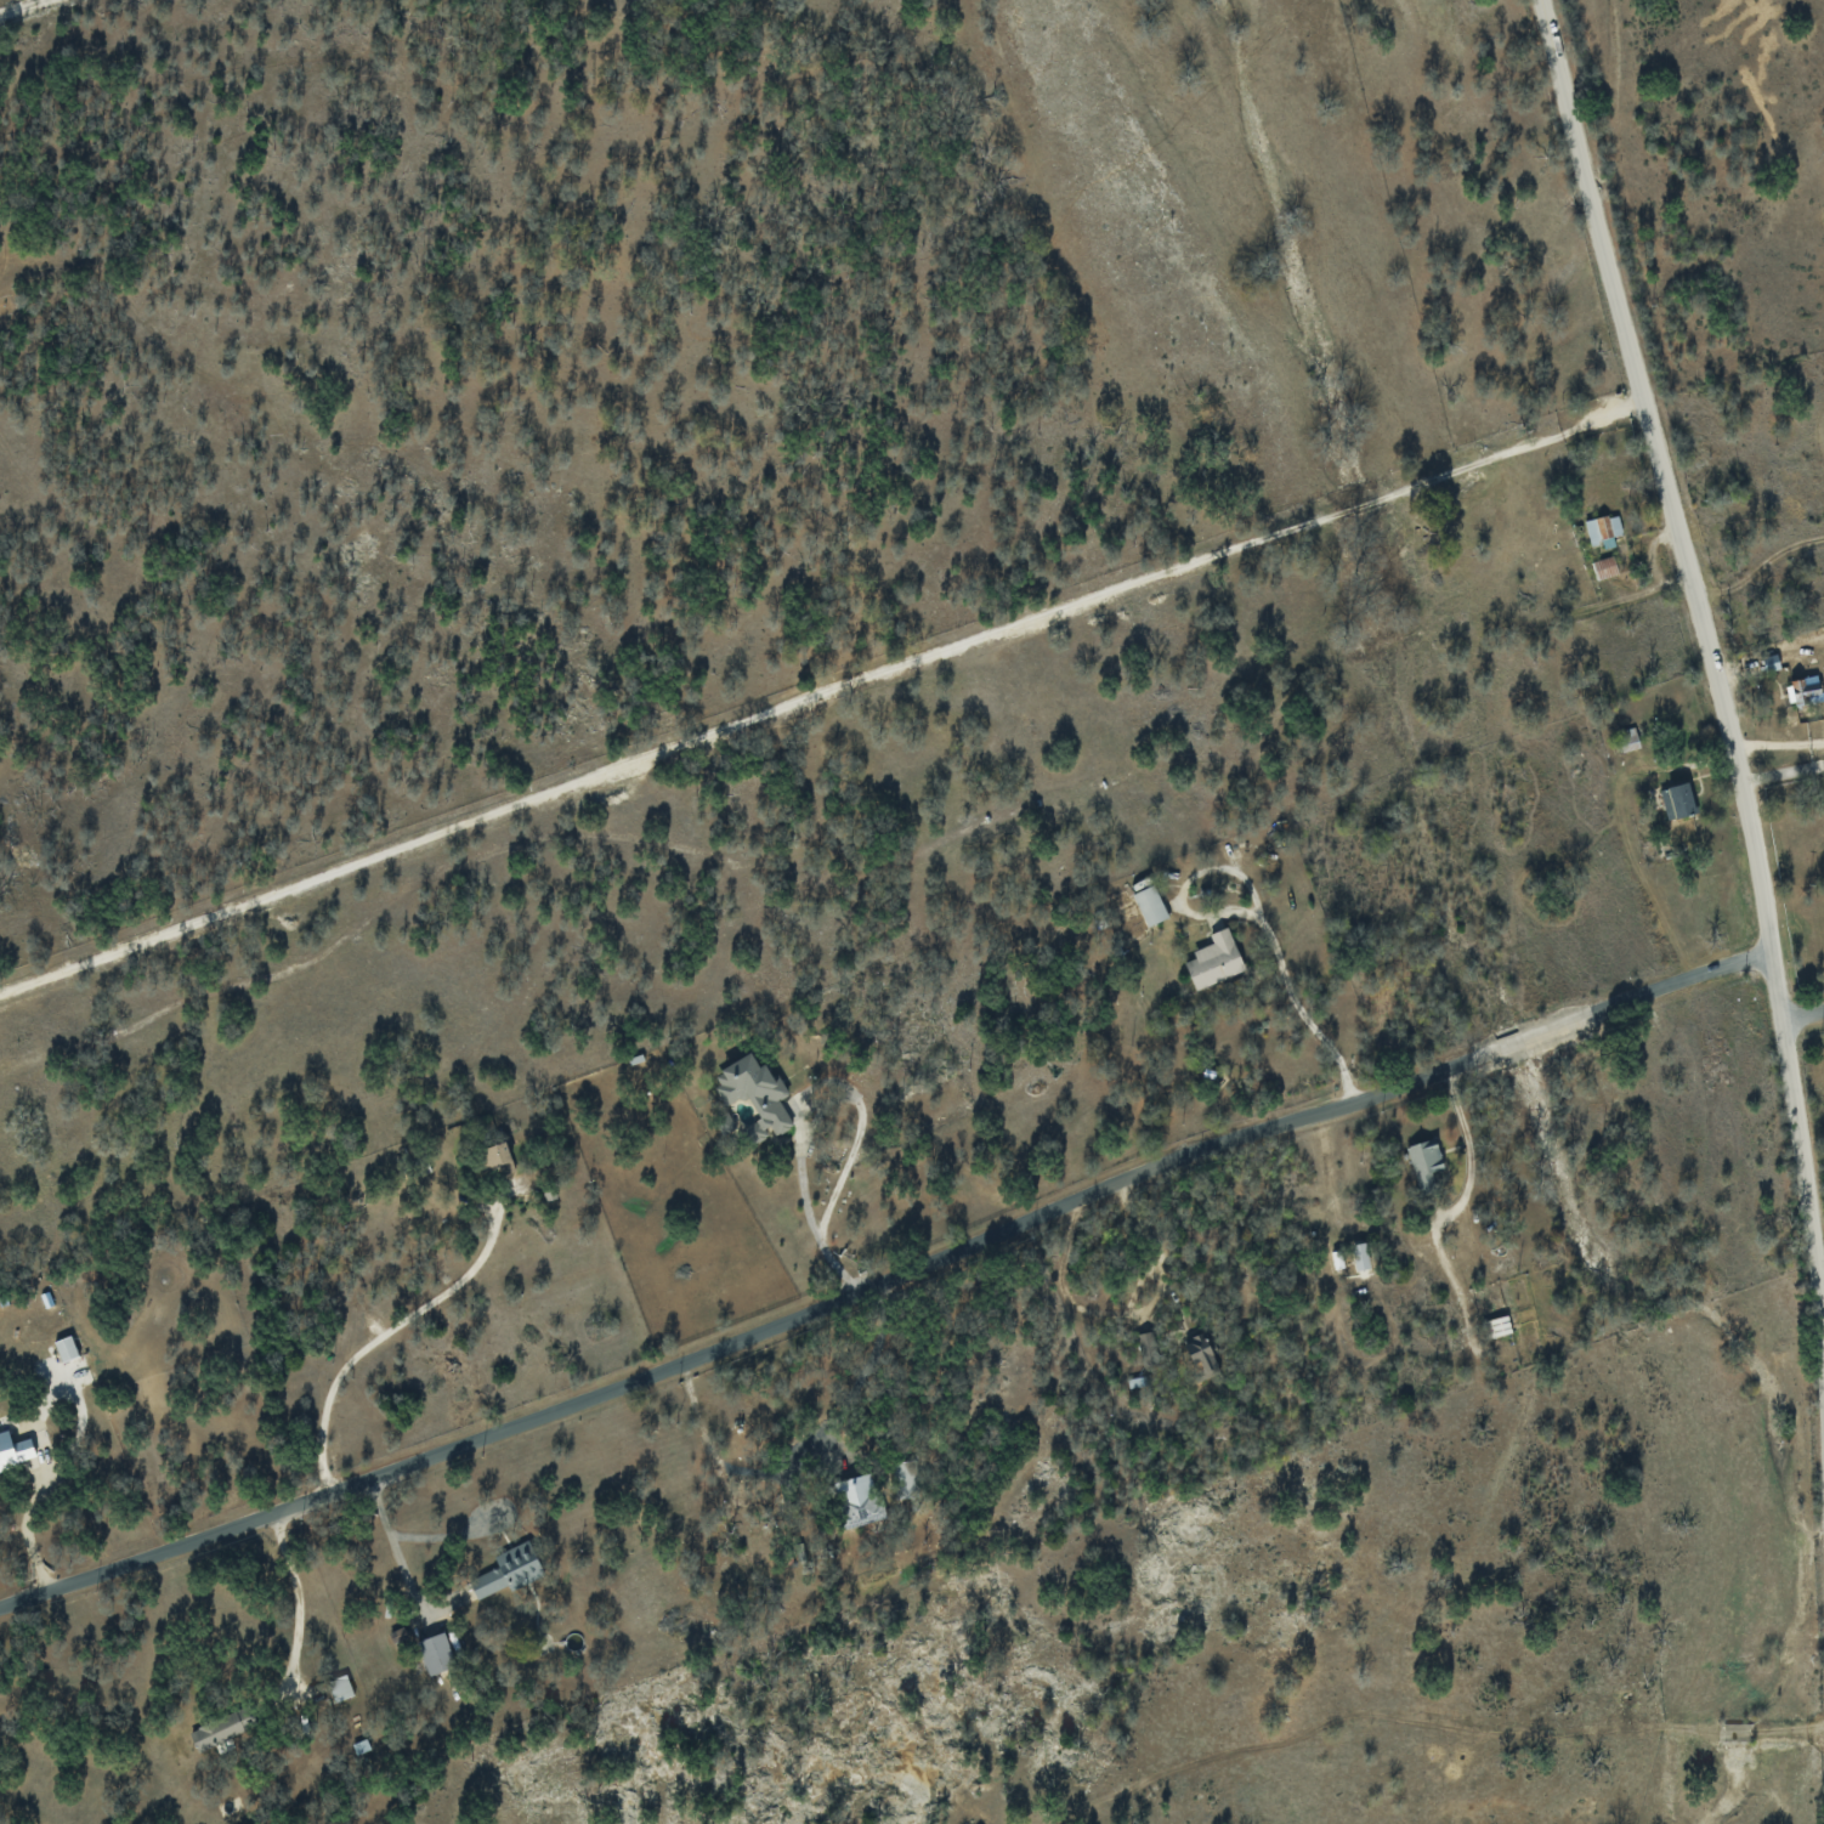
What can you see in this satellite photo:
road: (21, 6)
building: (1603, 529)
building: (1604, 567)
road: (1711, 664)
building: (1803, 690)
road: (818, 693)
building: (1628, 738)
road: (1777, 742)
building: (1678, 800)
building: (1150, 905)
building: (1214, 959)
road: (1290, 998)
road: (1803, 1009)
building: (755, 1095)
building: (494, 1155)
road: (818, 1230)
road: (1150, 1235)
road: (888, 1282)
building: (1496, 1326)
road: (375, 1338)
building: (66, 1347)
building: (1200, 1352)
building: (15, 1449)
road: (718, 1469)
building: (905, 1479)
building: (859, 1500)
road: (393, 1543)
building: (508, 1570)
road: (296, 1598)
building: (436, 1653)
building: (340, 1687)
building: (220, 1729)

